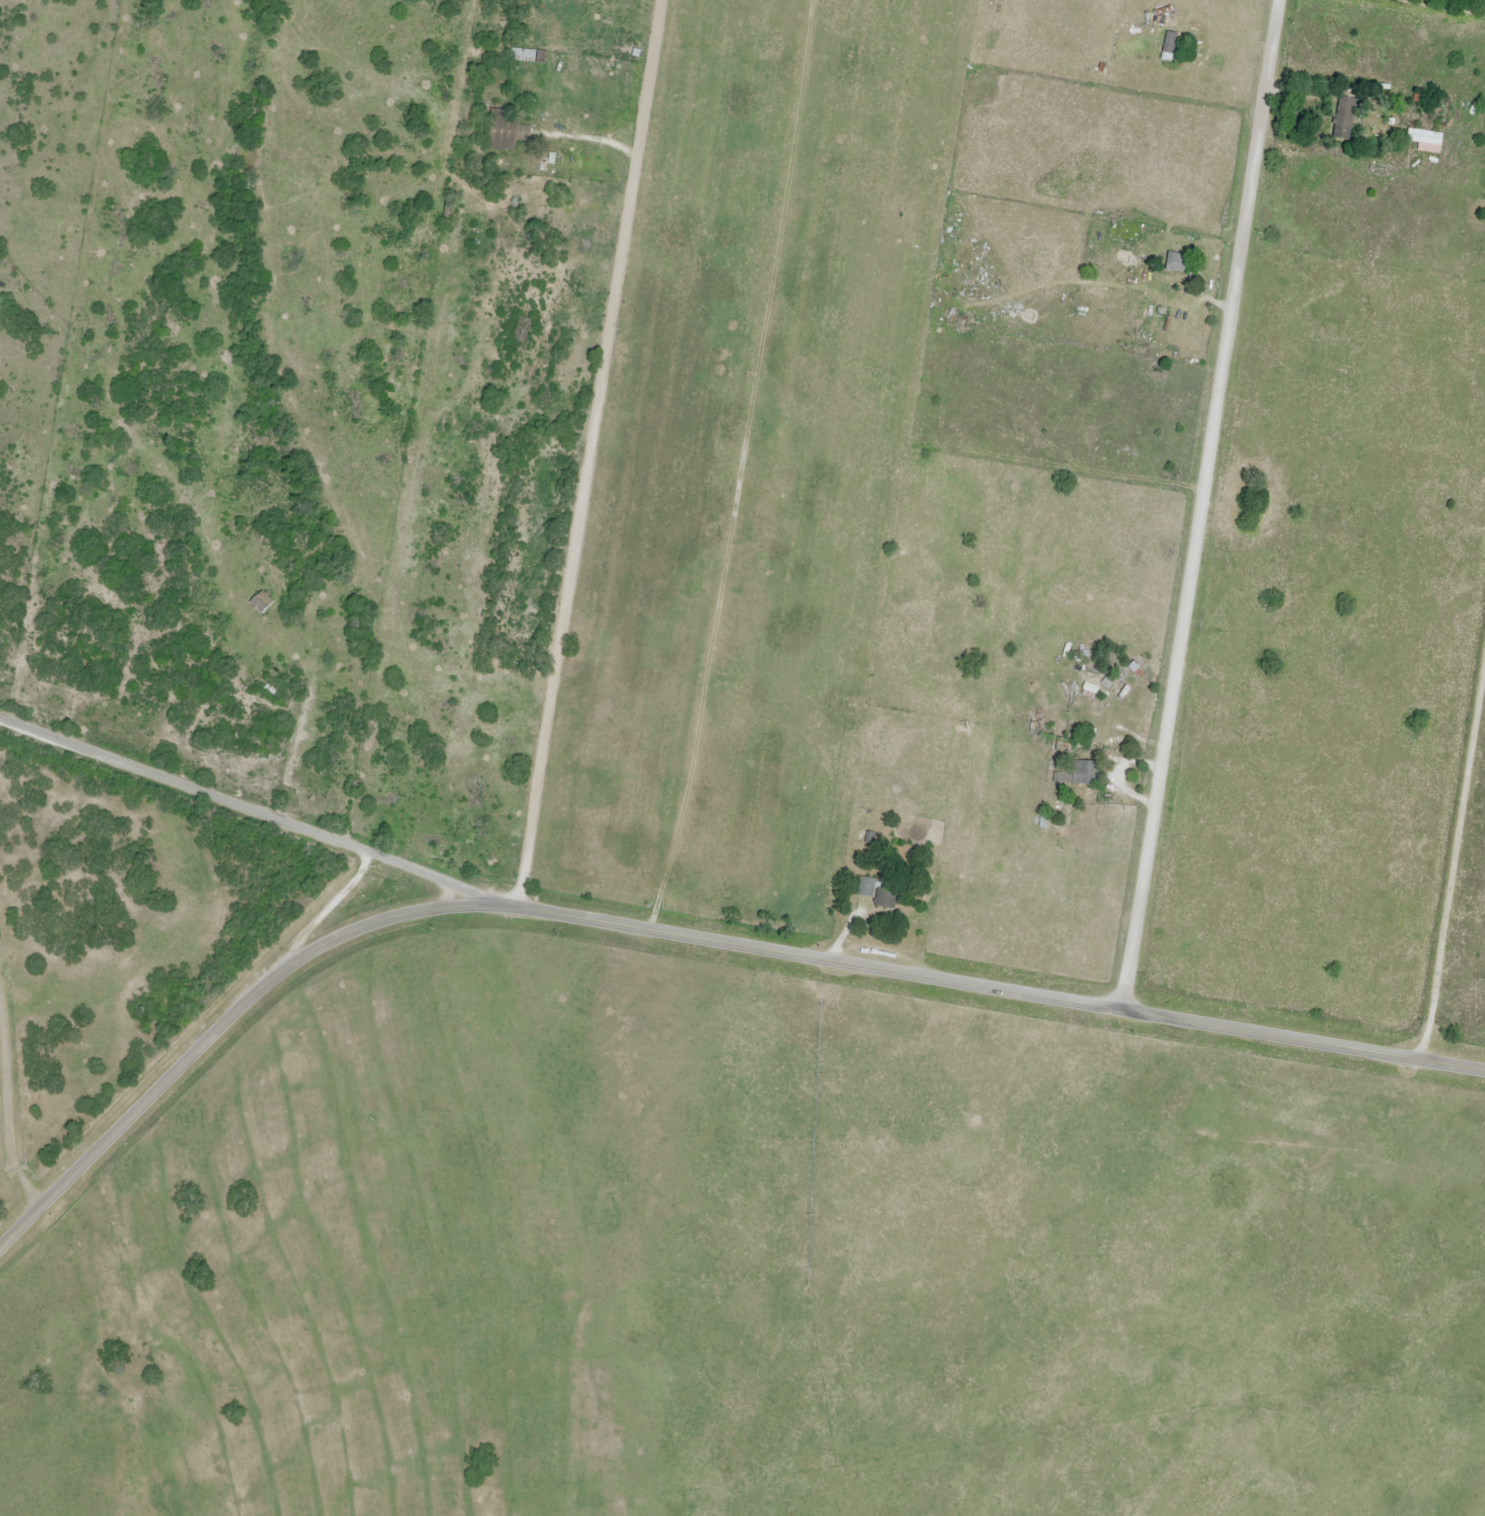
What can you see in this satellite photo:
building: (1168, 47)
building: (526, 56)
building: (1343, 118)
building: (506, 131)
building: (1176, 263)
building: (0, 303)
road: (585, 454)
road: (740, 466)
road: (1200, 505)
building: (261, 603)
building: (1135, 670)
building: (1085, 774)
building: (1061, 778)
road: (246, 808)
building: (878, 894)
road: (683, 935)

